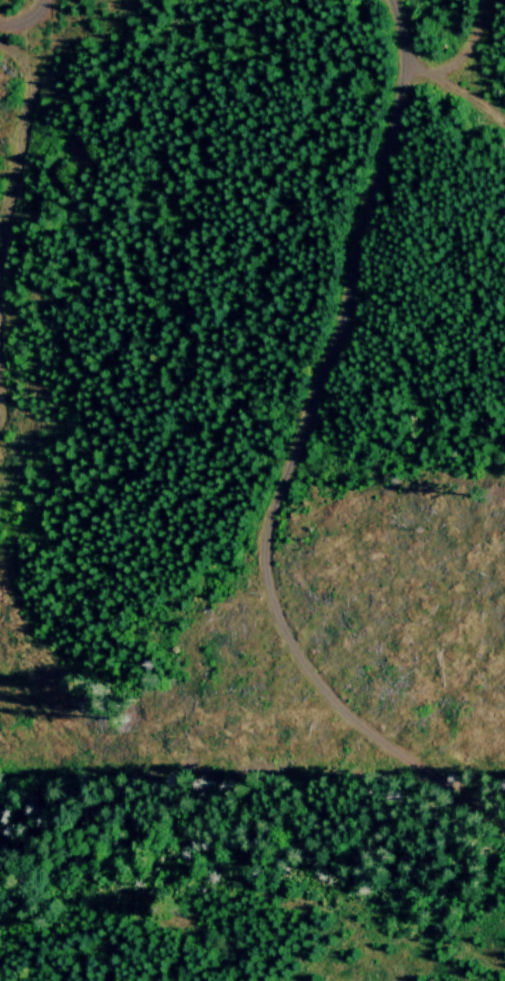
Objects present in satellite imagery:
road: (15, 7)
road: (460, 64)
road: (483, 103)
road: (285, 446)

